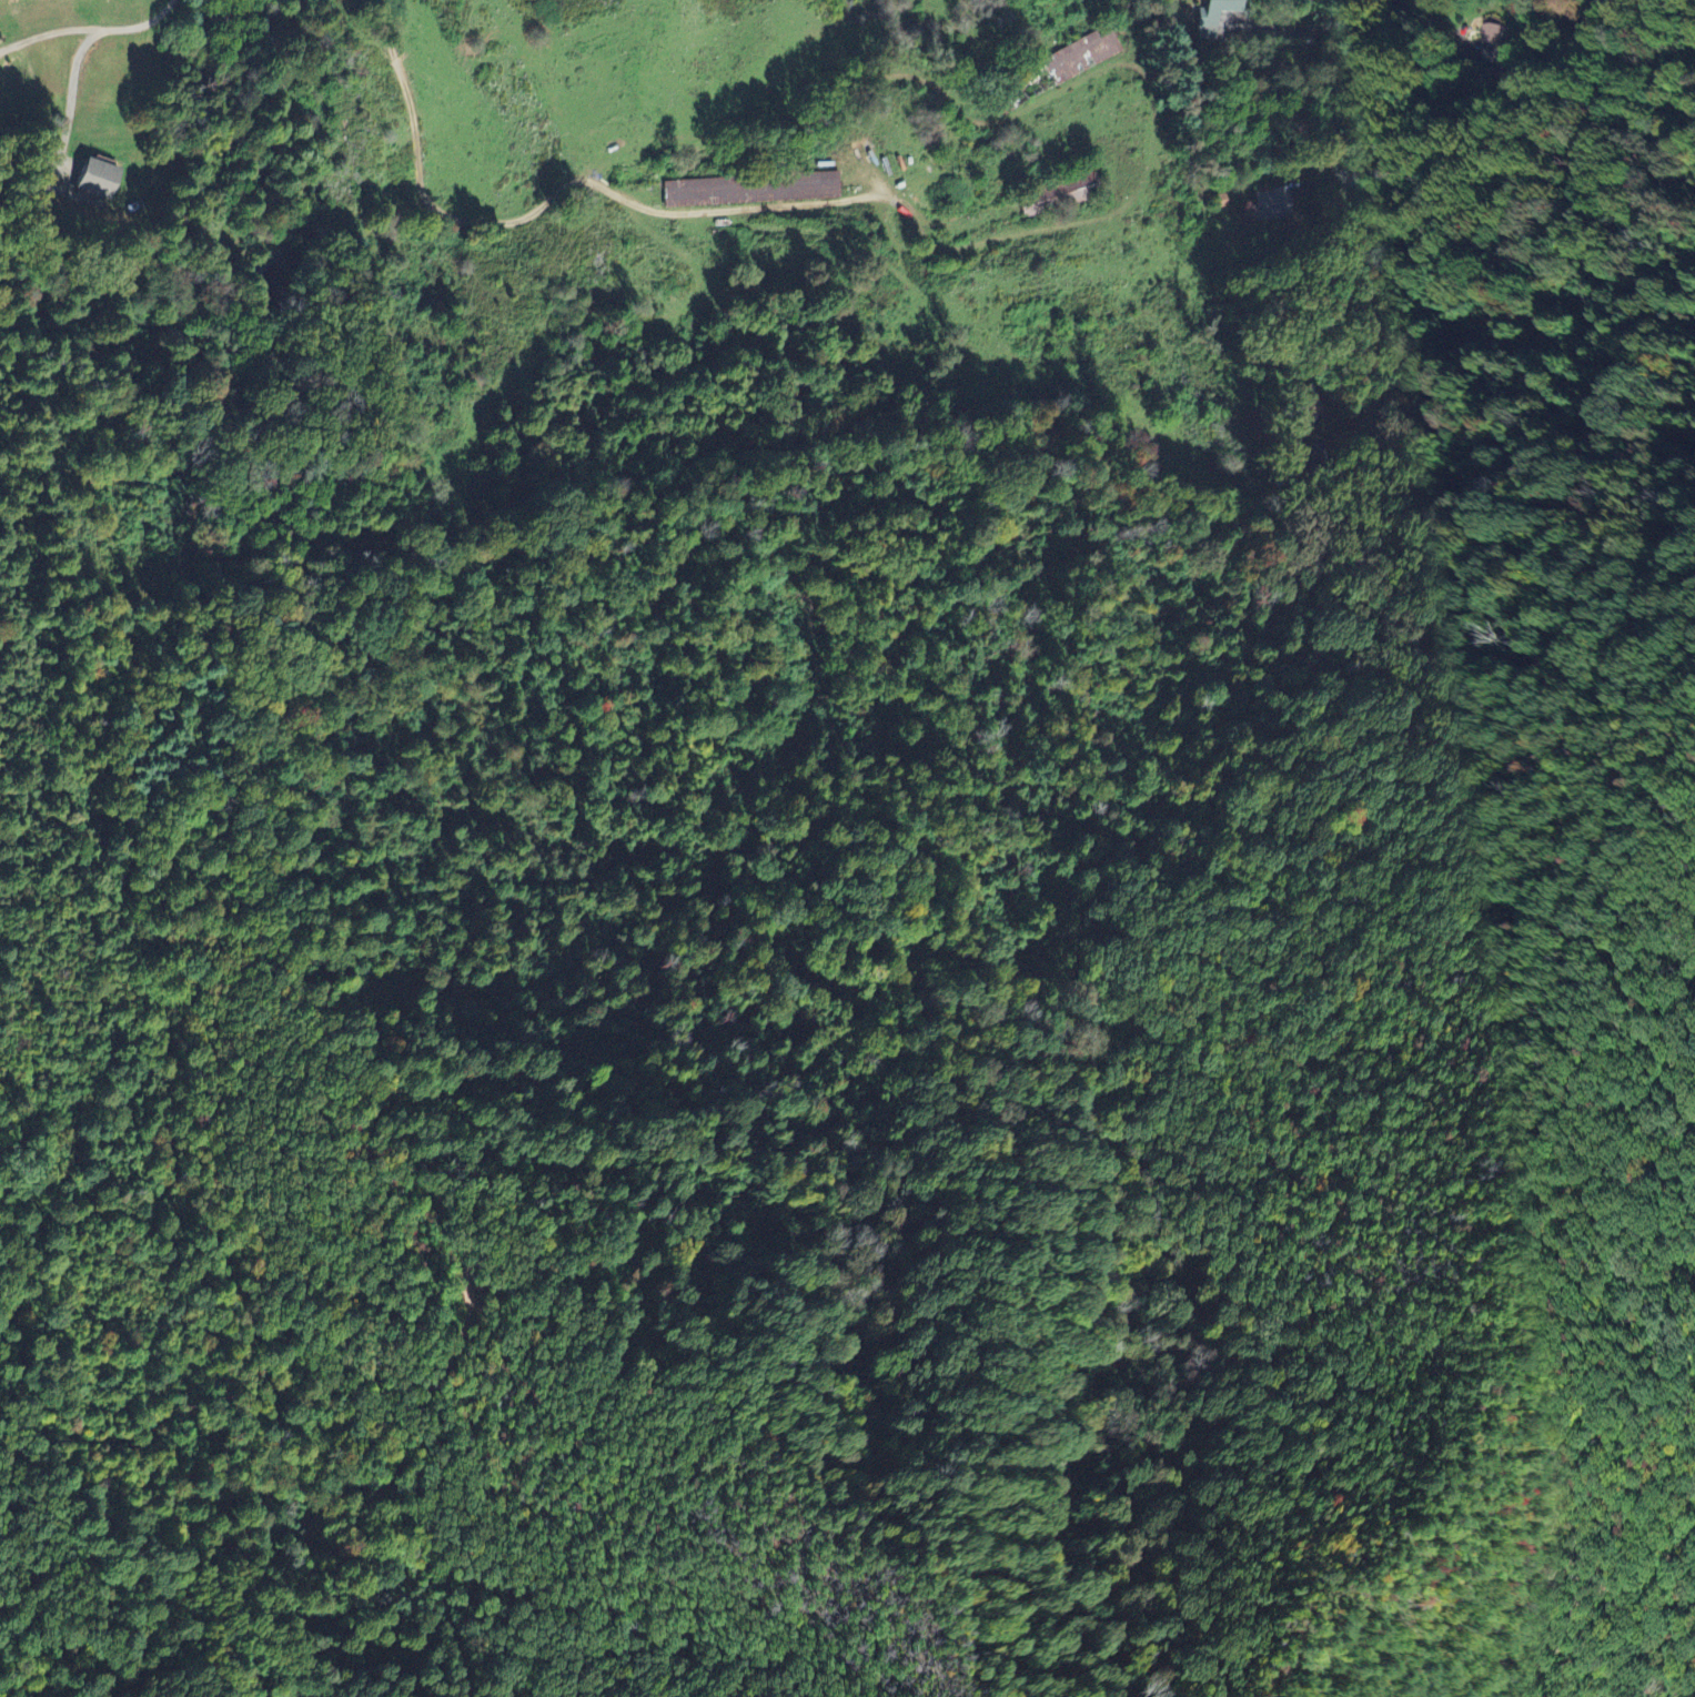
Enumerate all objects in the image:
building: (1210, 16)
road: (141, 27)
road: (1288, 29)
road: (48, 33)
building: (1497, 48)
building: (1055, 70)
road: (73, 97)
building: (91, 178)
road: (423, 180)
building: (750, 188)
building: (1059, 194)
building: (1272, 202)
road: (1399, 224)
building: (1303, 404)

